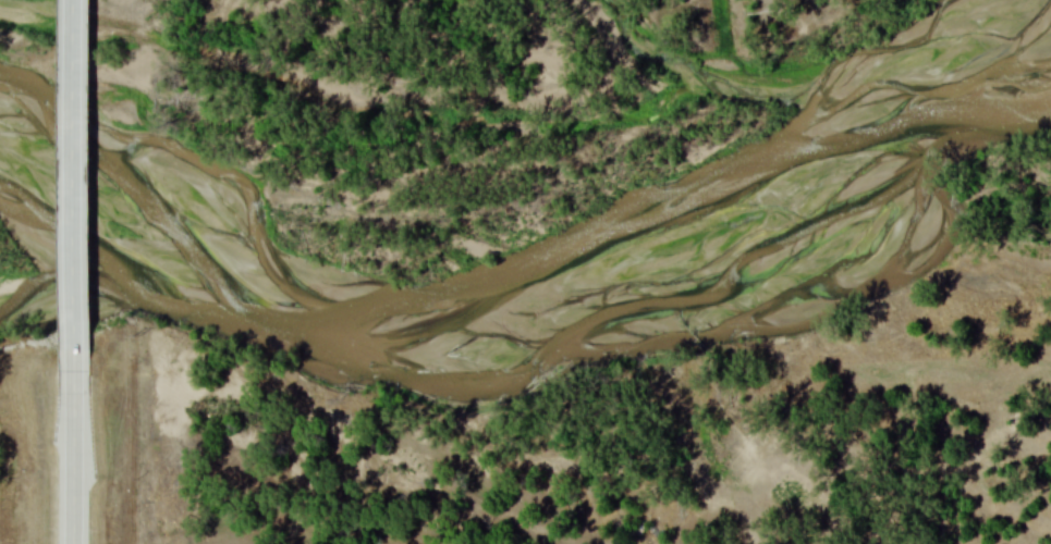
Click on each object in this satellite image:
road: (73, 187)
river: (543, 287)
road: (73, 459)

